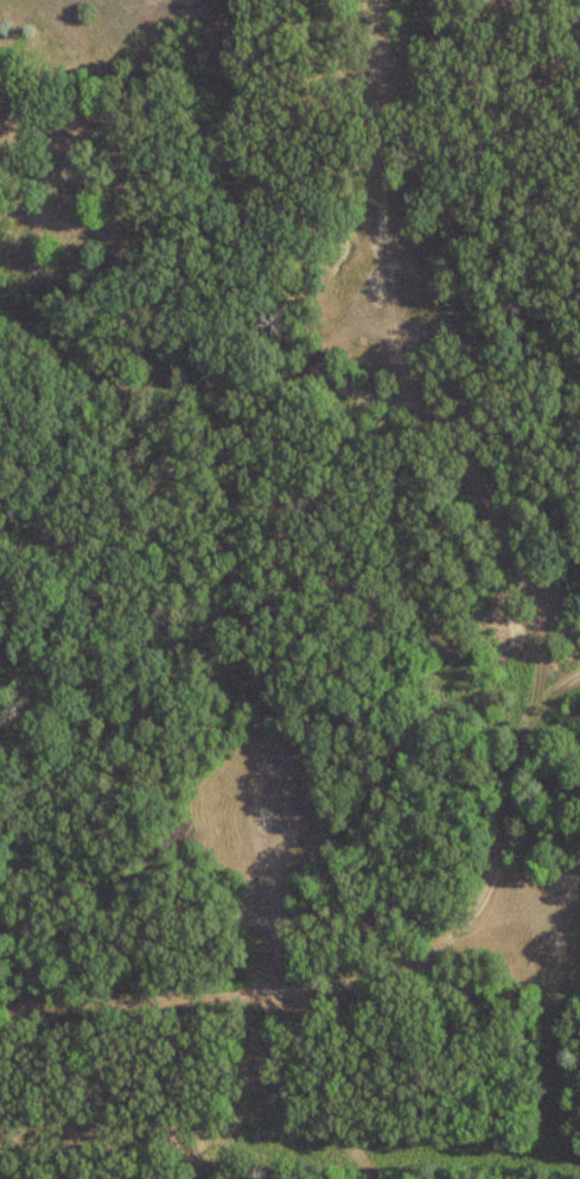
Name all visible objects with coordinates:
building: (4, 100)
building: (60, 186)
road: (399, 233)
road: (189, 400)
road: (550, 742)
road: (503, 839)
road: (326, 1094)

